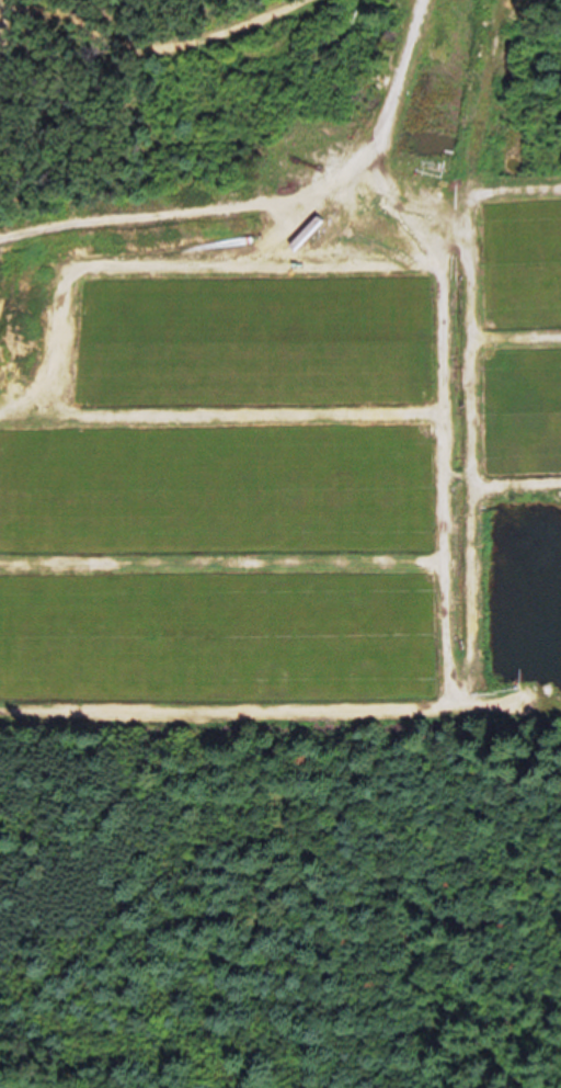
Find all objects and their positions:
road: (147, 46)

